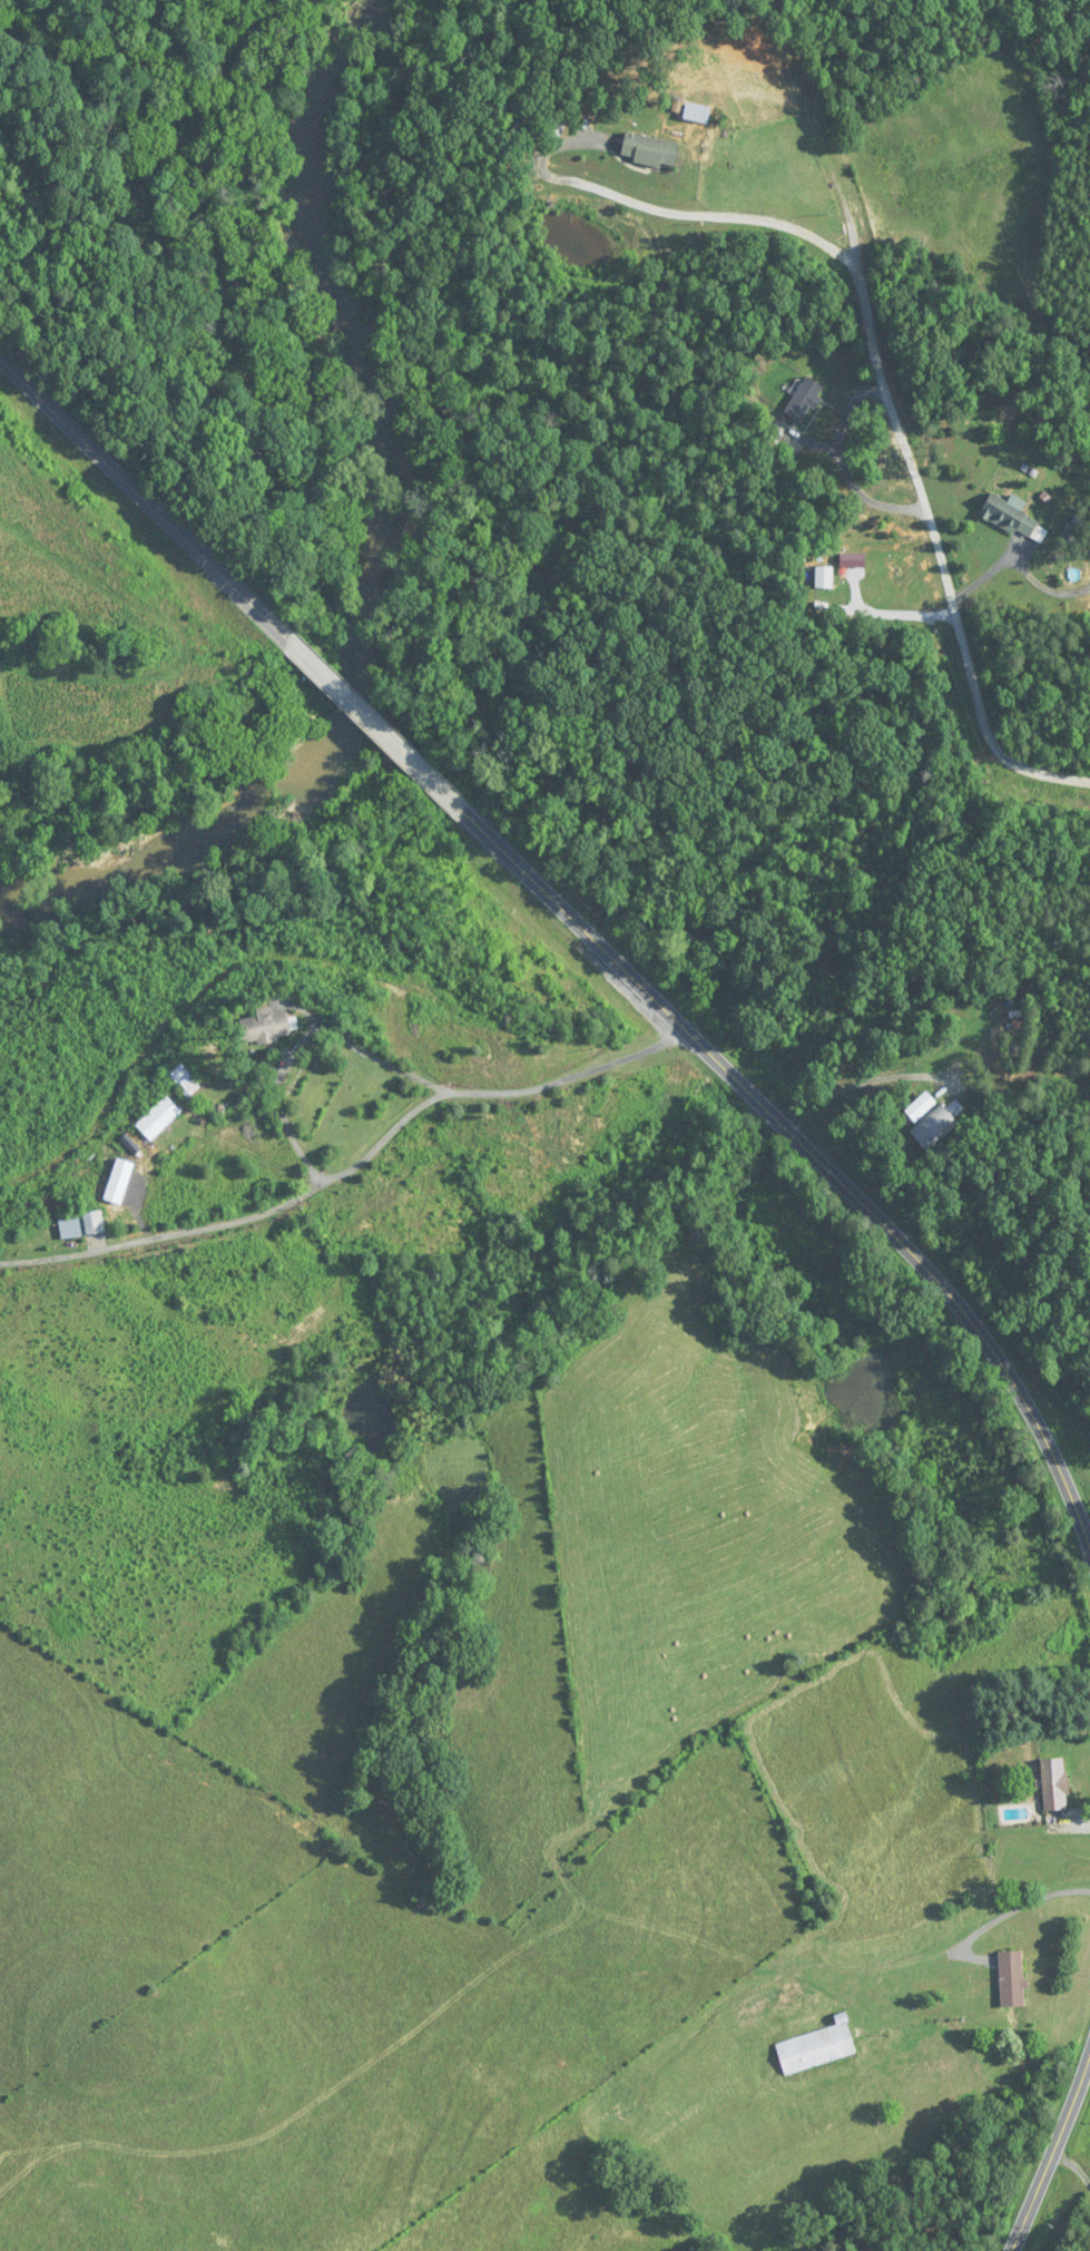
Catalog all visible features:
building: (553, 128)
building: (649, 151)
road: (672, 212)
building: (803, 399)
road: (900, 419)
road: (144, 497)
building: (1012, 517)
building: (824, 570)
road: (334, 686)
road: (422, 772)
building: (265, 1028)
road: (361, 1048)
road: (870, 1079)
road: (278, 1100)
building: (933, 1128)
road: (811, 1154)
road: (352, 1166)
building: (92, 1223)
building: (69, 1227)
road: (1037, 1314)
road: (1087, 1530)
building: (1053, 1782)
road: (1010, 1911)
building: (833, 1944)
building: (1011, 1979)
building: (769, 2005)
building: (816, 2048)
road: (1052, 2153)
road: (1074, 2166)

